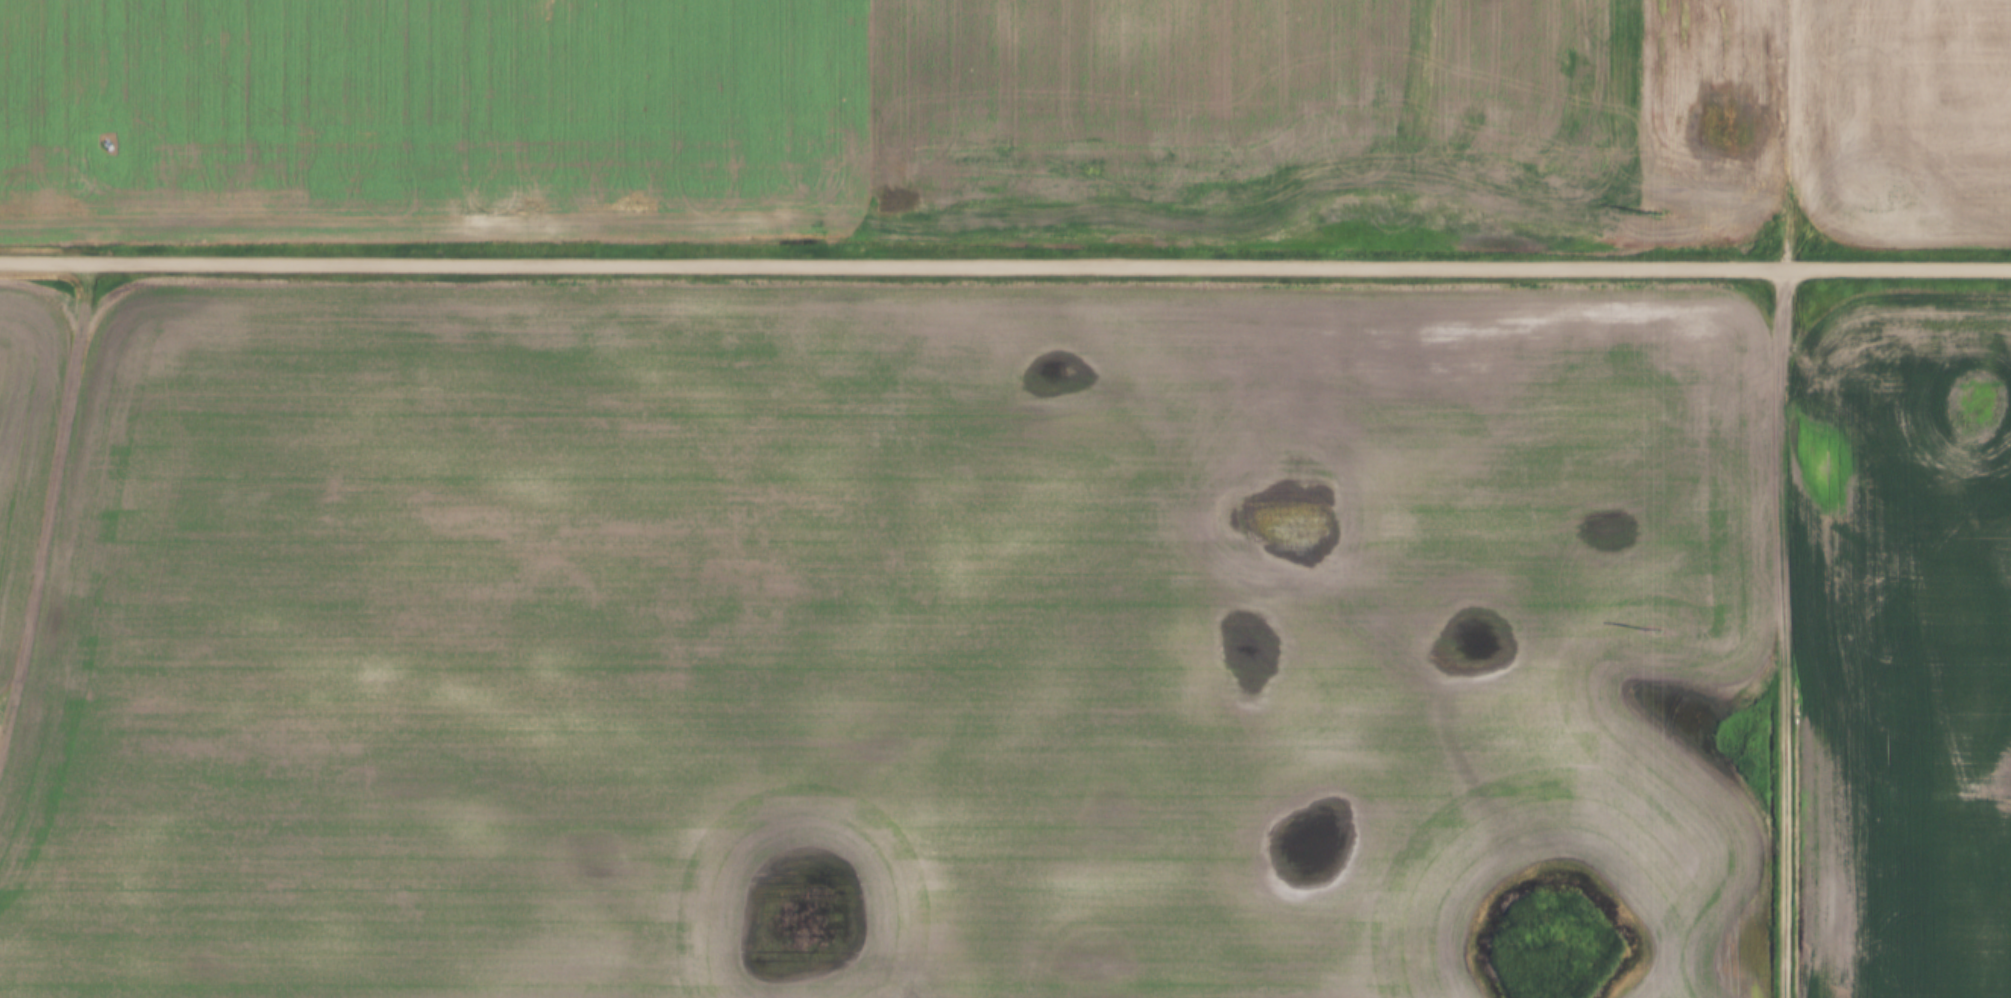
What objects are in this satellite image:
road: (1005, 268)
road: (1783, 498)
road: (47, 505)

